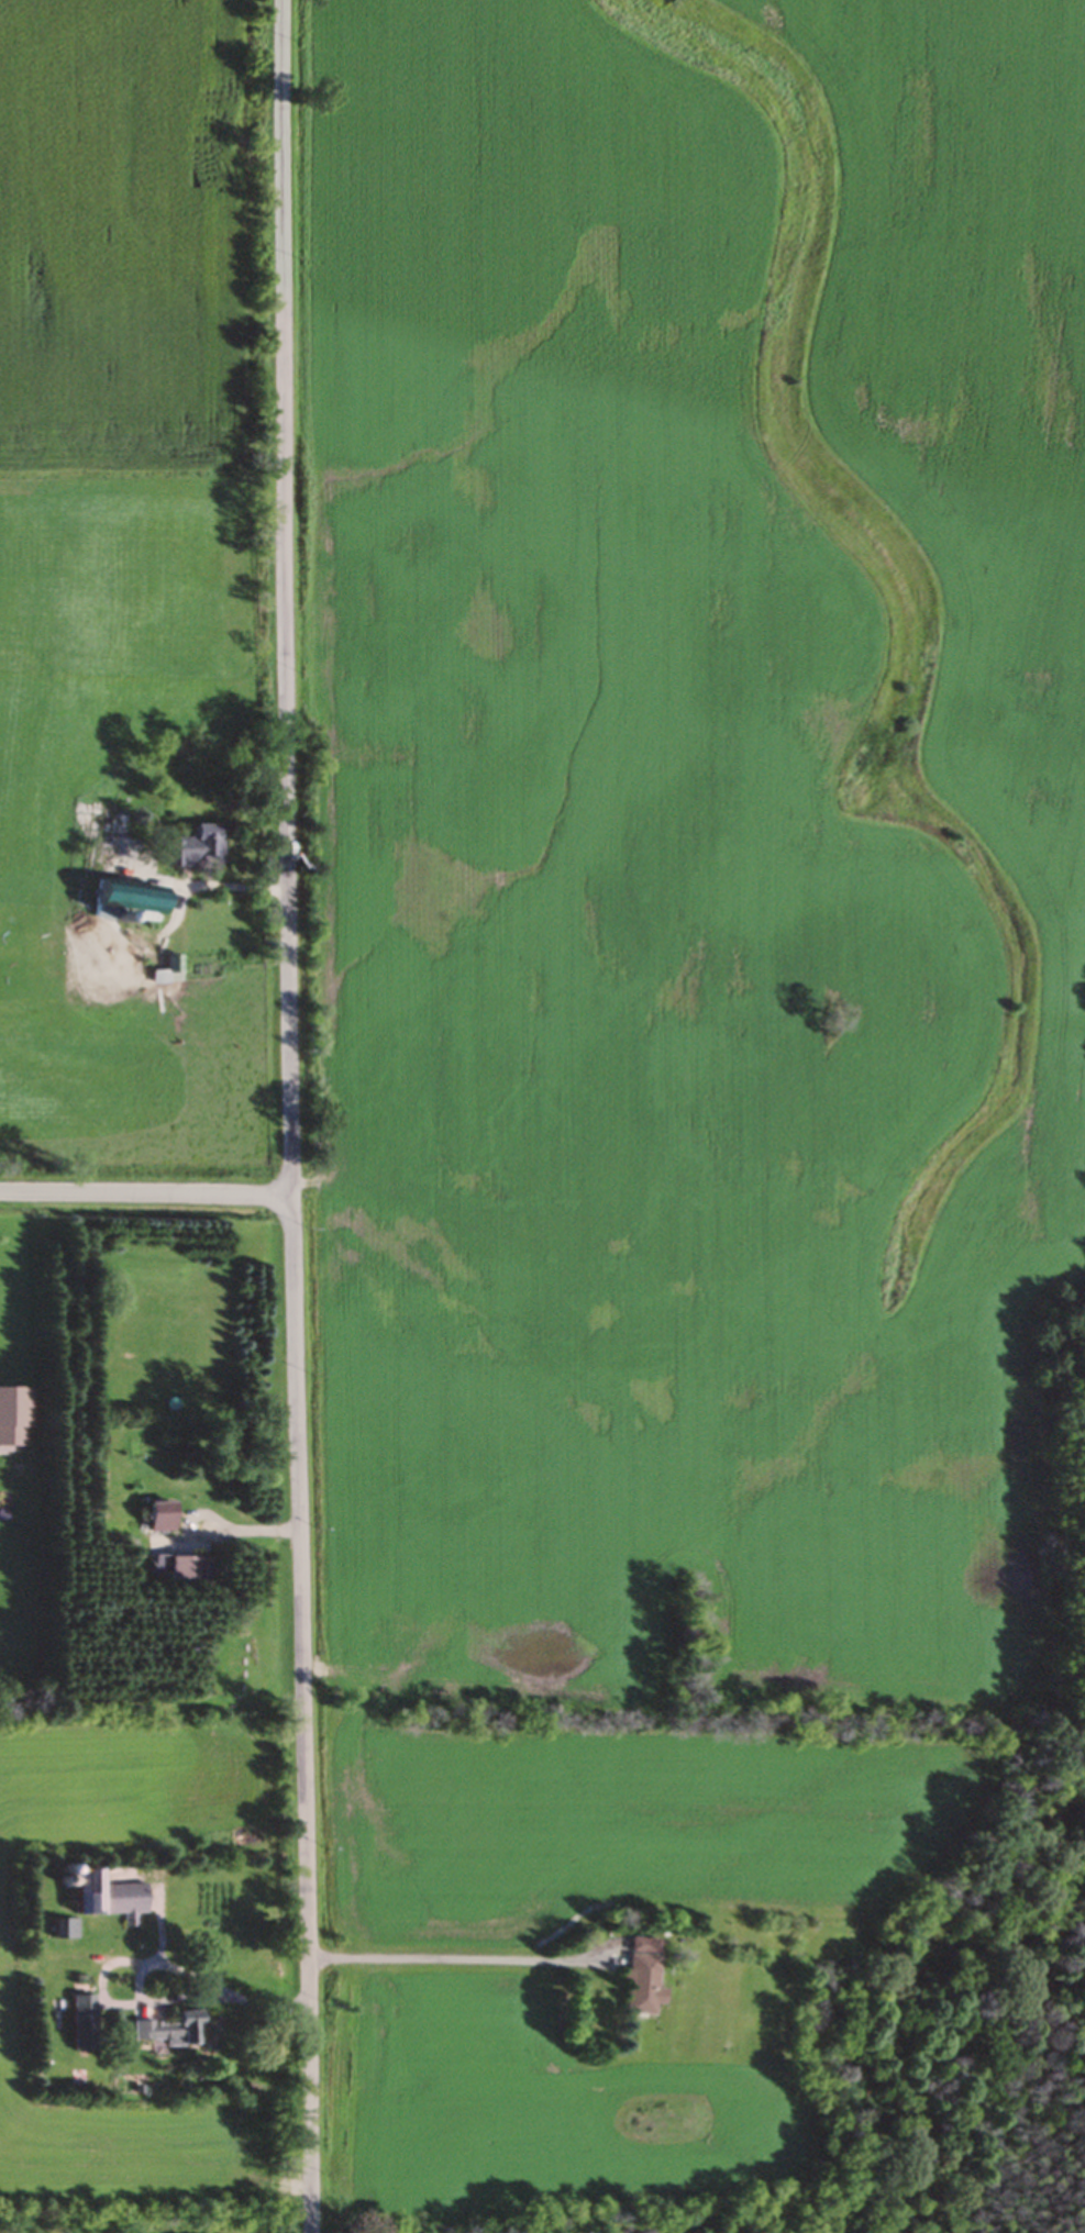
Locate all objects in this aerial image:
building: (193, 851)
road: (195, 885)
building: (126, 902)
building: (173, 969)
road: (291, 1116)
road: (146, 1195)
building: (159, 1519)
road: (214, 1519)
building: (182, 1573)
building: (104, 1898)
road: (450, 1954)
road: (117, 1957)
building: (634, 1985)
building: (82, 2024)
building: (170, 2030)

